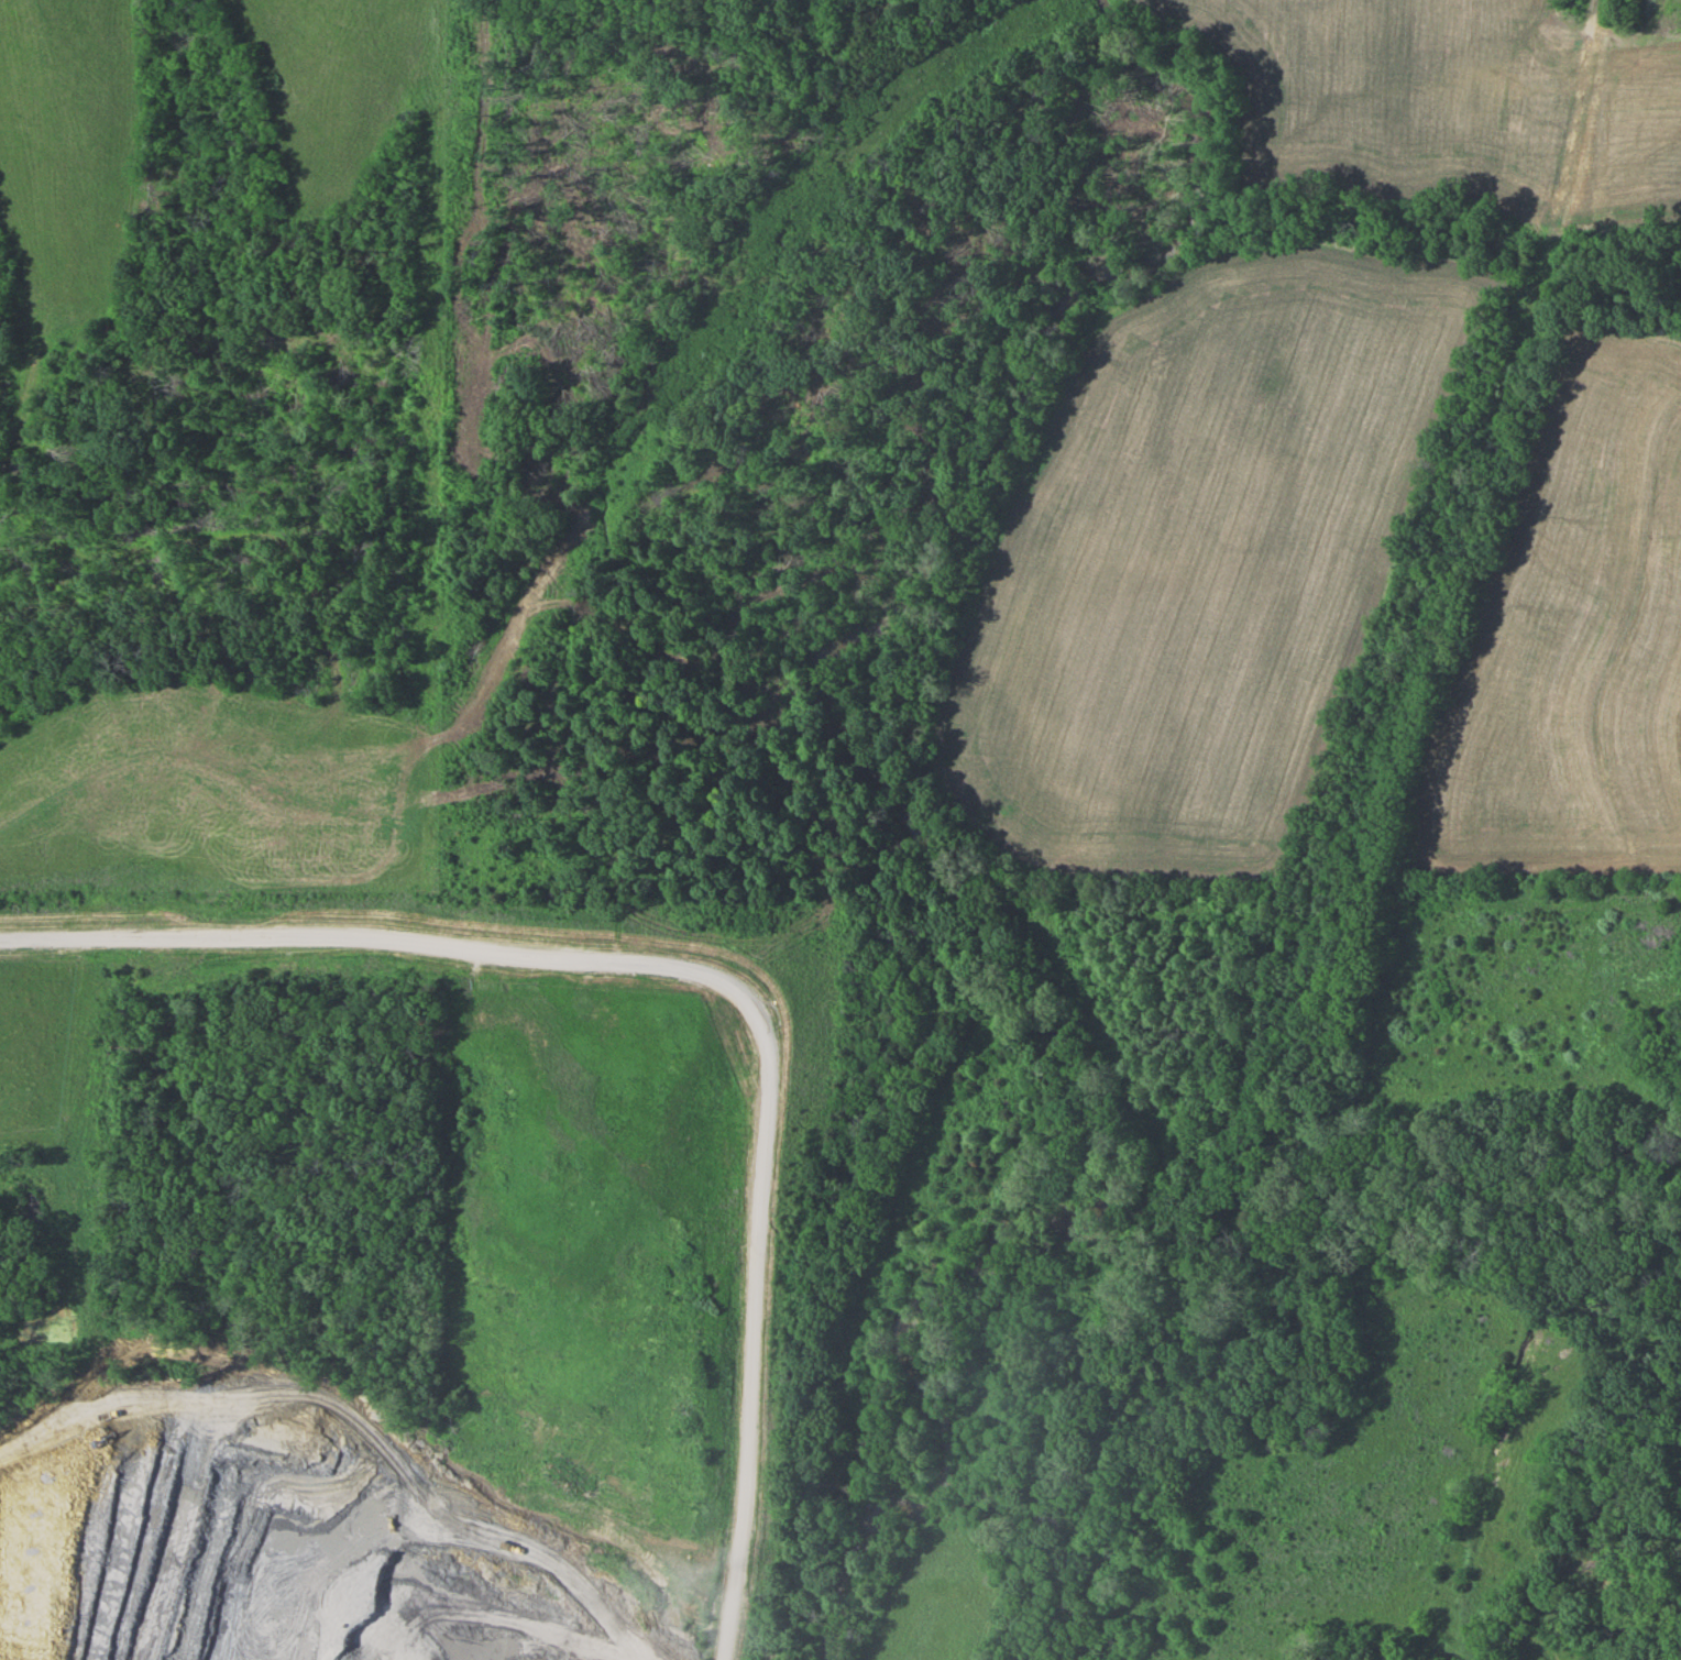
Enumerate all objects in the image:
road: (1625, 32)
crop: (327, 88)
crop: (1395, 94)
crop: (62, 171)
crop: (1199, 564)
crop: (218, 790)
road: (708, 974)

